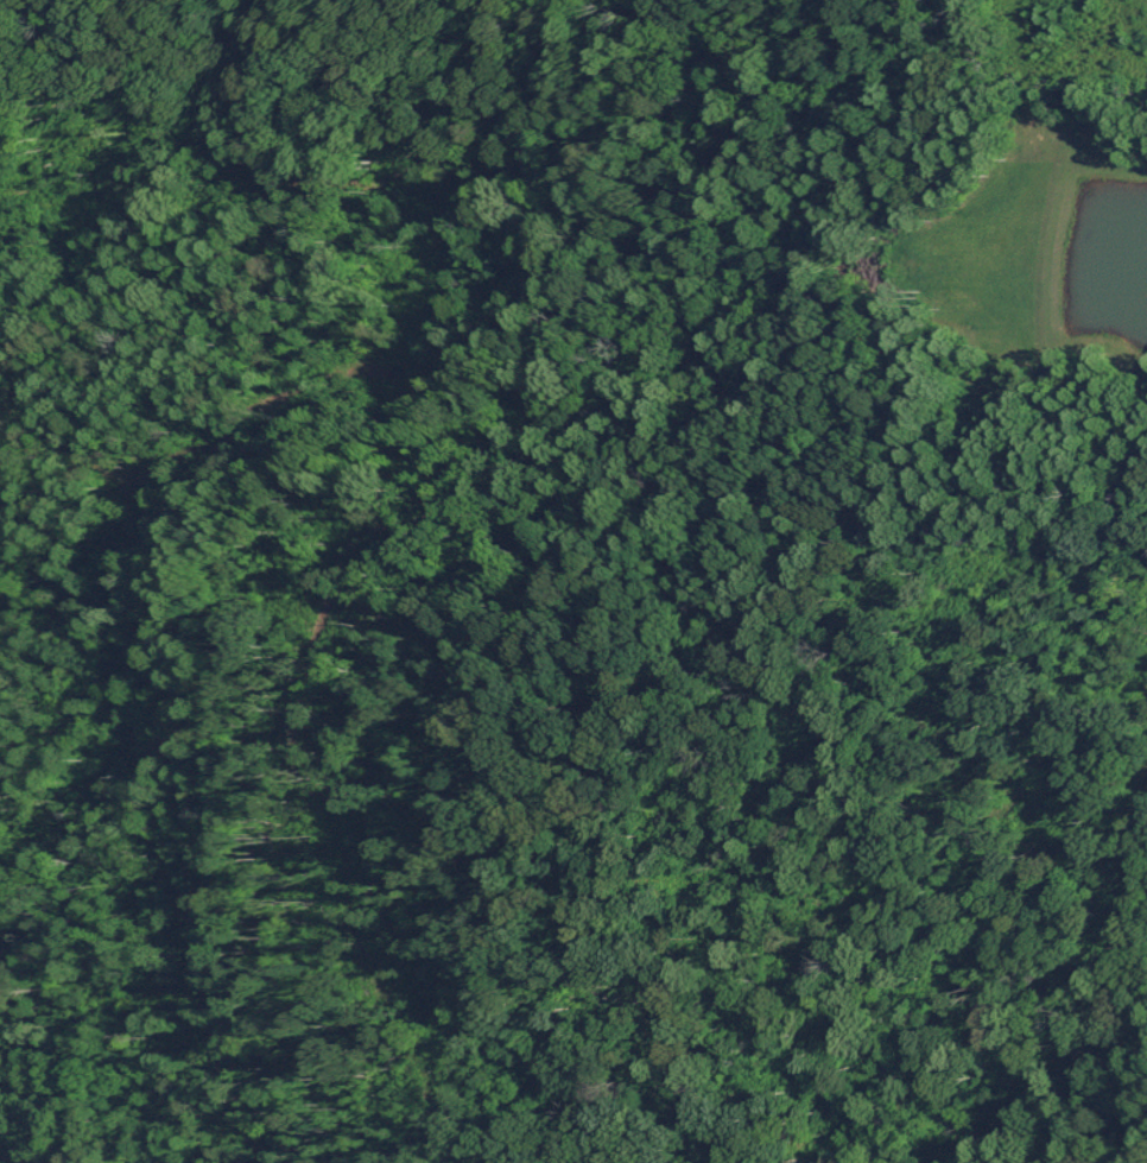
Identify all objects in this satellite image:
road: (12, 1140)

